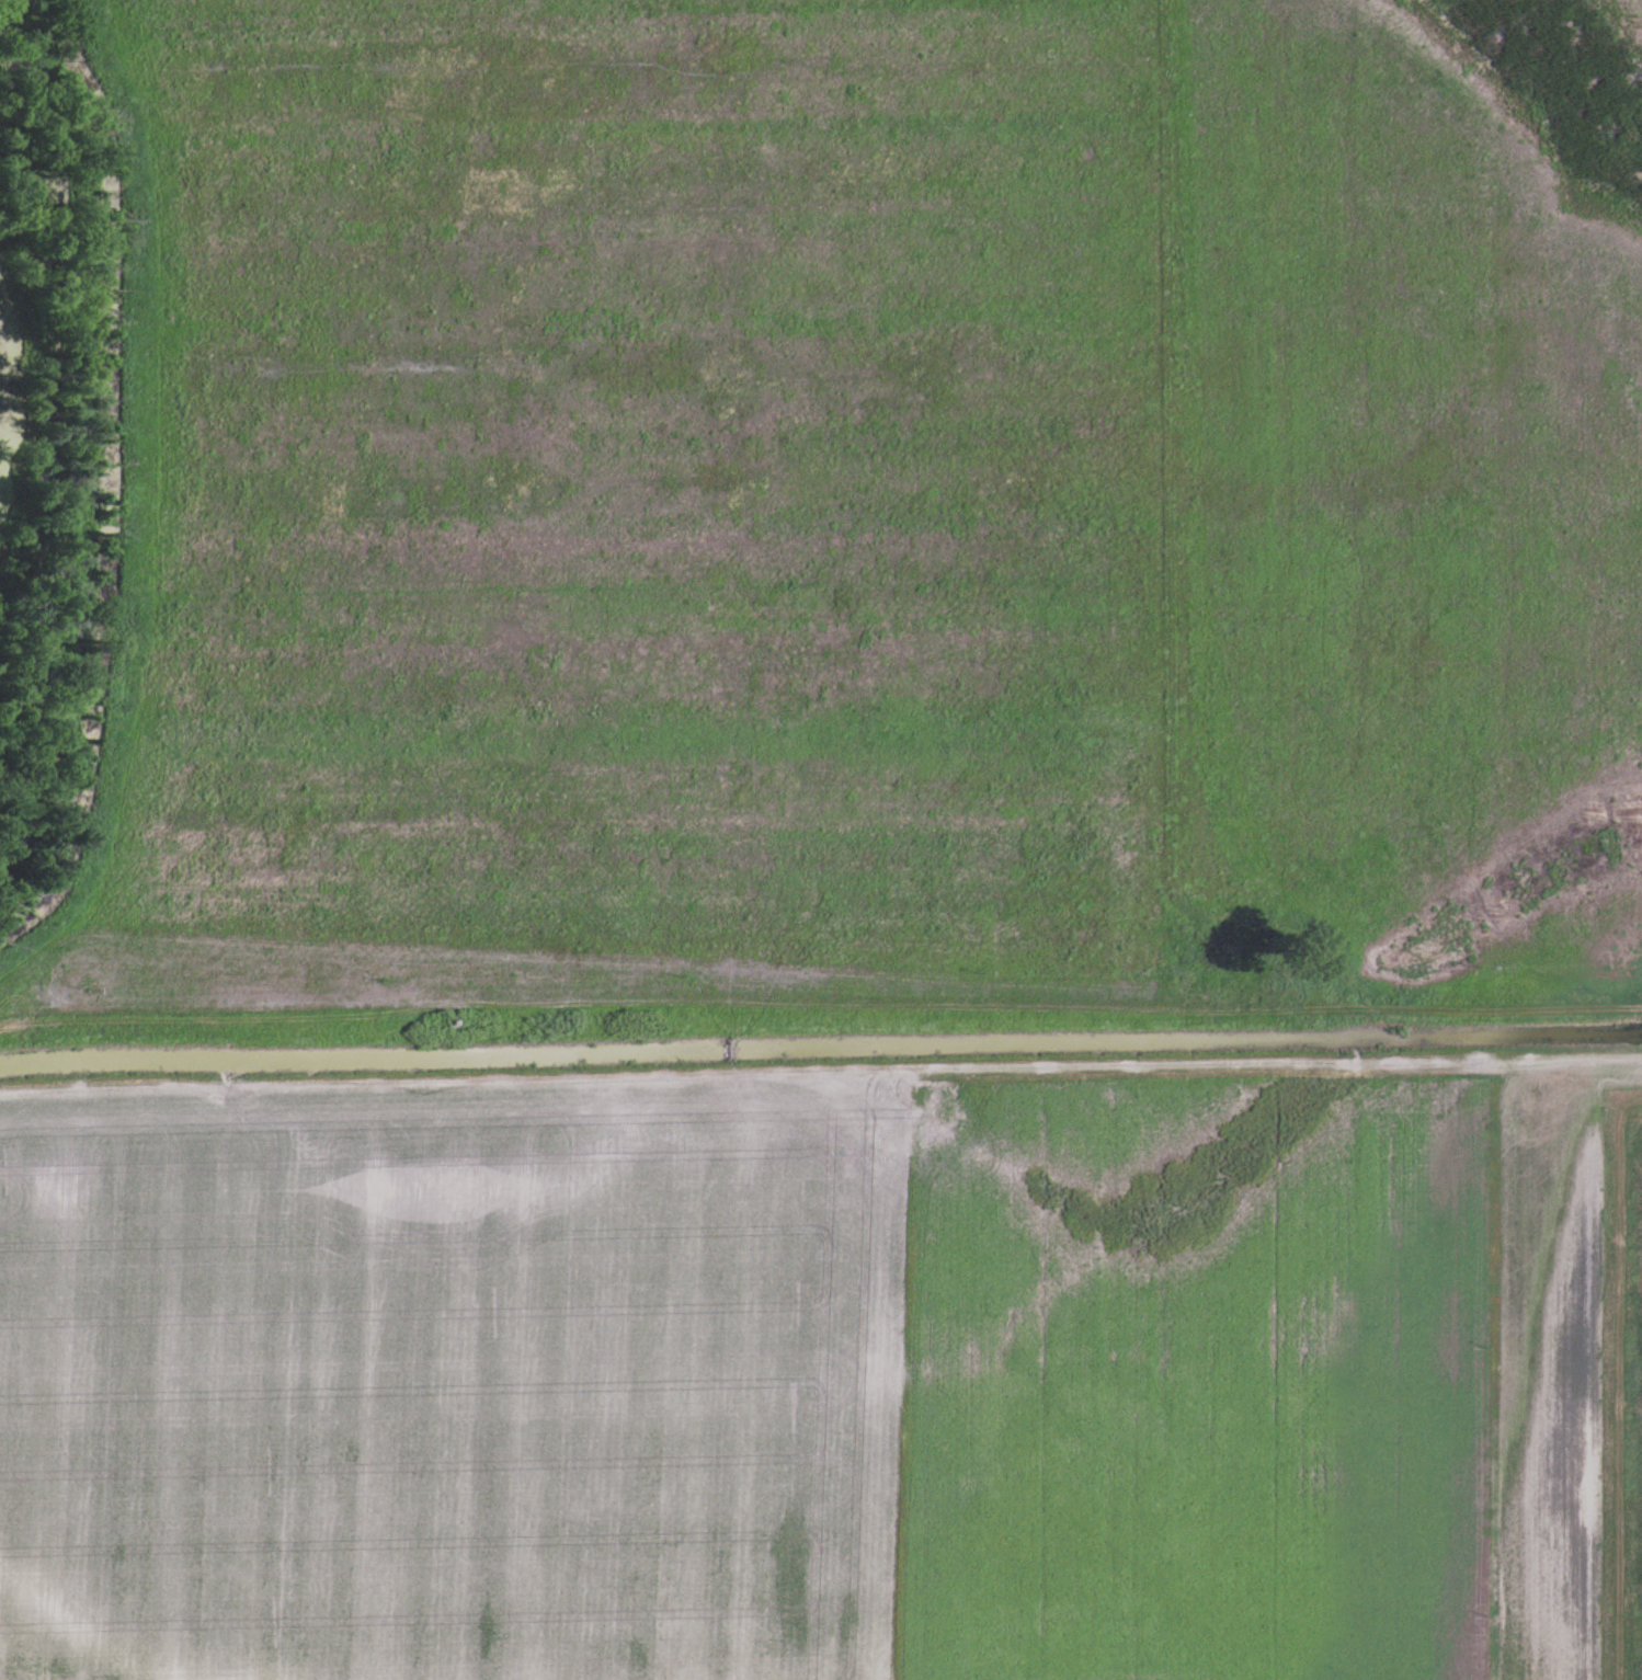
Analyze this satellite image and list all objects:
road: (1174, 704)
road: (820, 1071)

